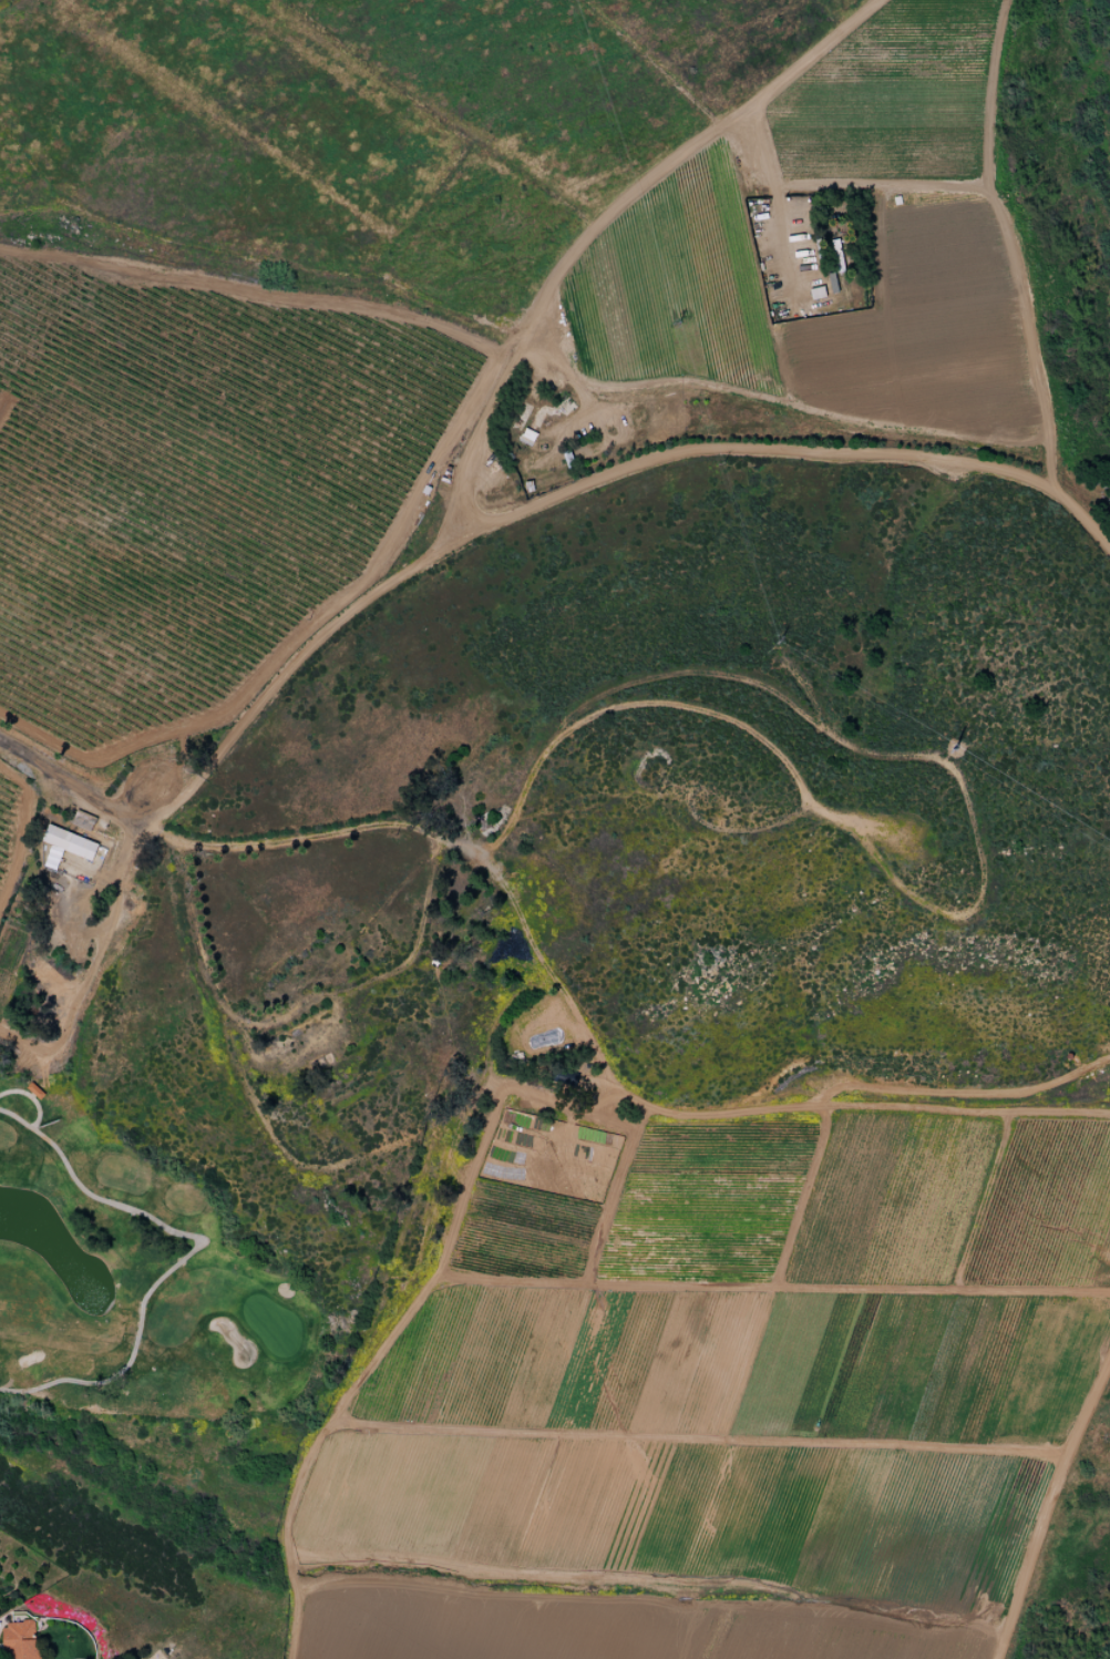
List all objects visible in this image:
park: (1065, 178)
road: (582, 485)
building: (70, 842)
road: (188, 843)
road: (502, 885)
road: (102, 938)
park: (223, 1138)
road: (1046, 1507)
park: (1077, 1569)
building: (20, 1640)

